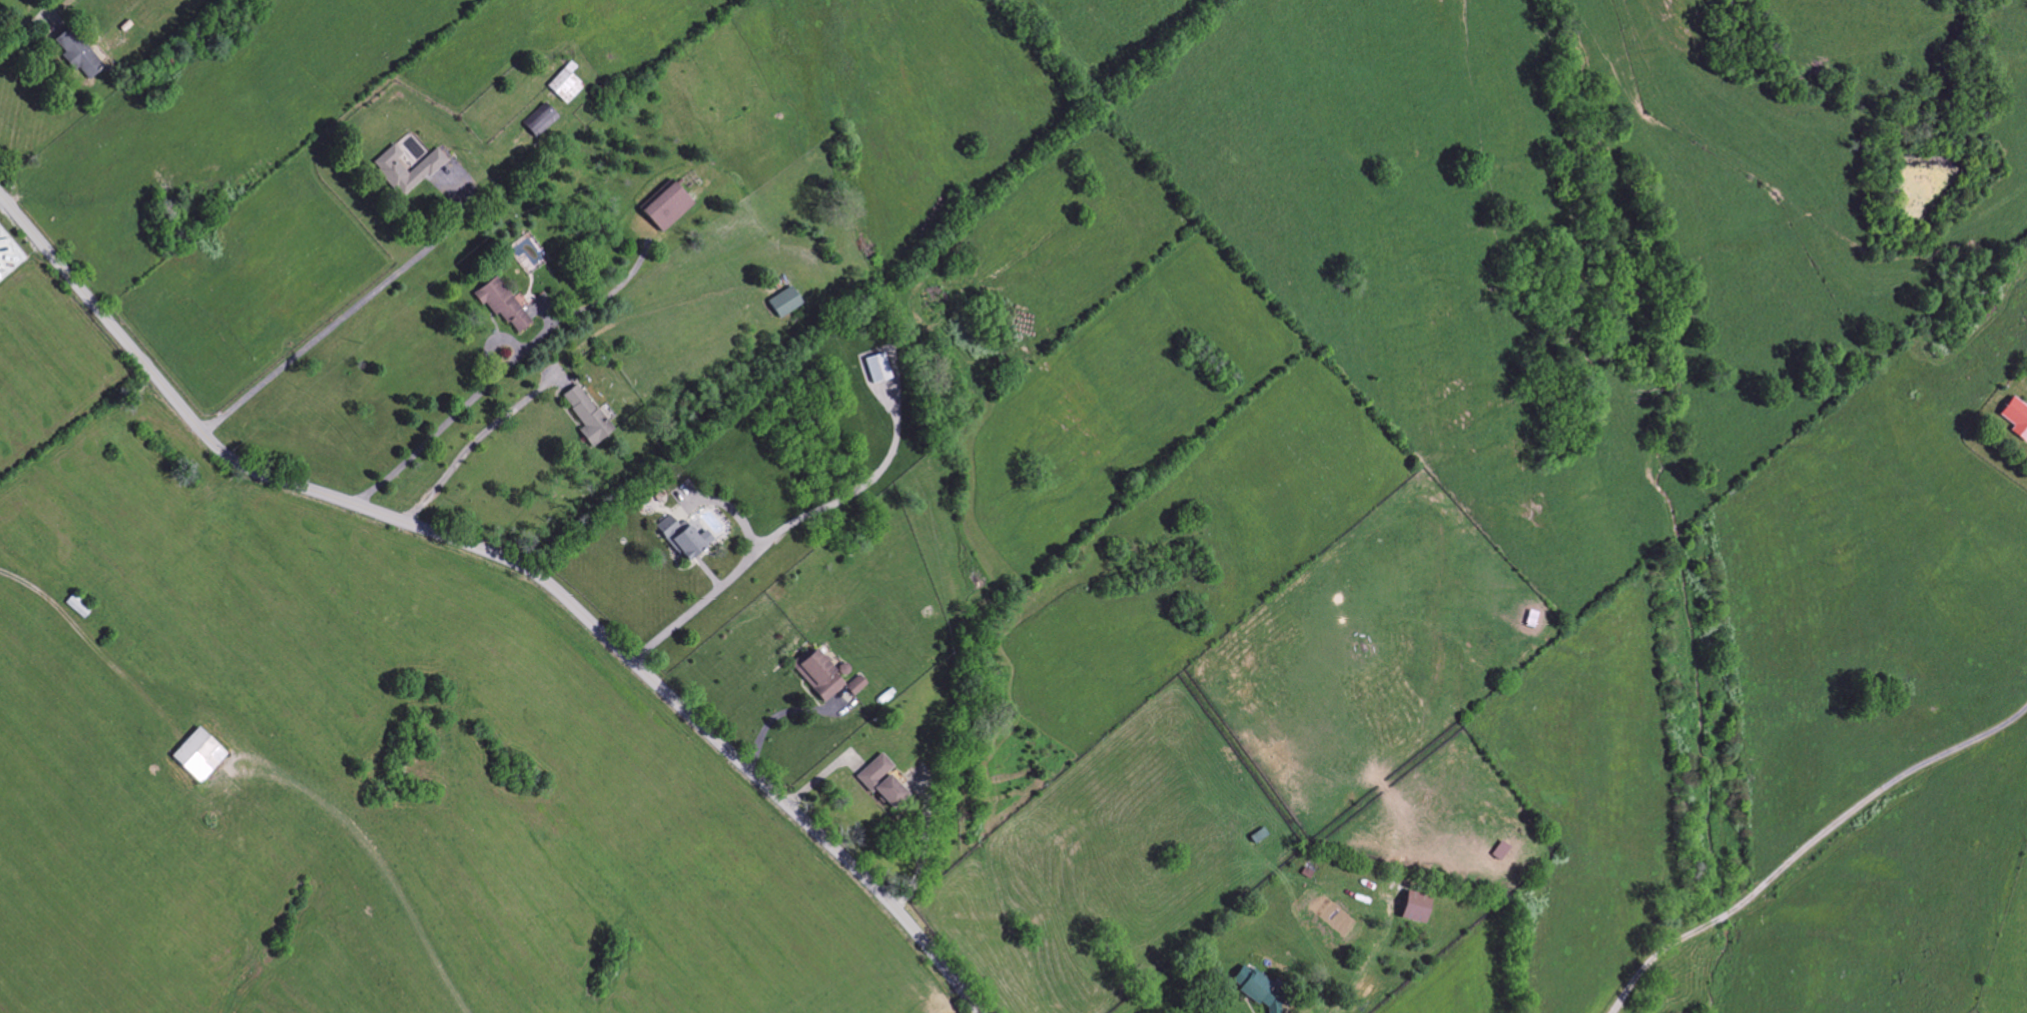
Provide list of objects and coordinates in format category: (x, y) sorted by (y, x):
road: (21, 24)
building: (77, 53)
building: (565, 83)
building: (539, 120)
building: (389, 167)
building: (666, 206)
building: (784, 302)
building: (502, 304)
road: (583, 307)
road: (343, 314)
building: (877, 368)
building: (586, 415)
building: (2016, 417)
road: (433, 433)
road: (471, 440)
road: (832, 502)
building: (682, 538)
road: (512, 562)
road: (675, 624)
road: (85, 642)
building: (819, 676)
building: (855, 685)
road: (777, 712)
building: (198, 755)
road: (815, 778)
building: (880, 781)
road: (919, 843)
road: (1805, 844)
building: (1415, 907)
building: (1259, 989)

